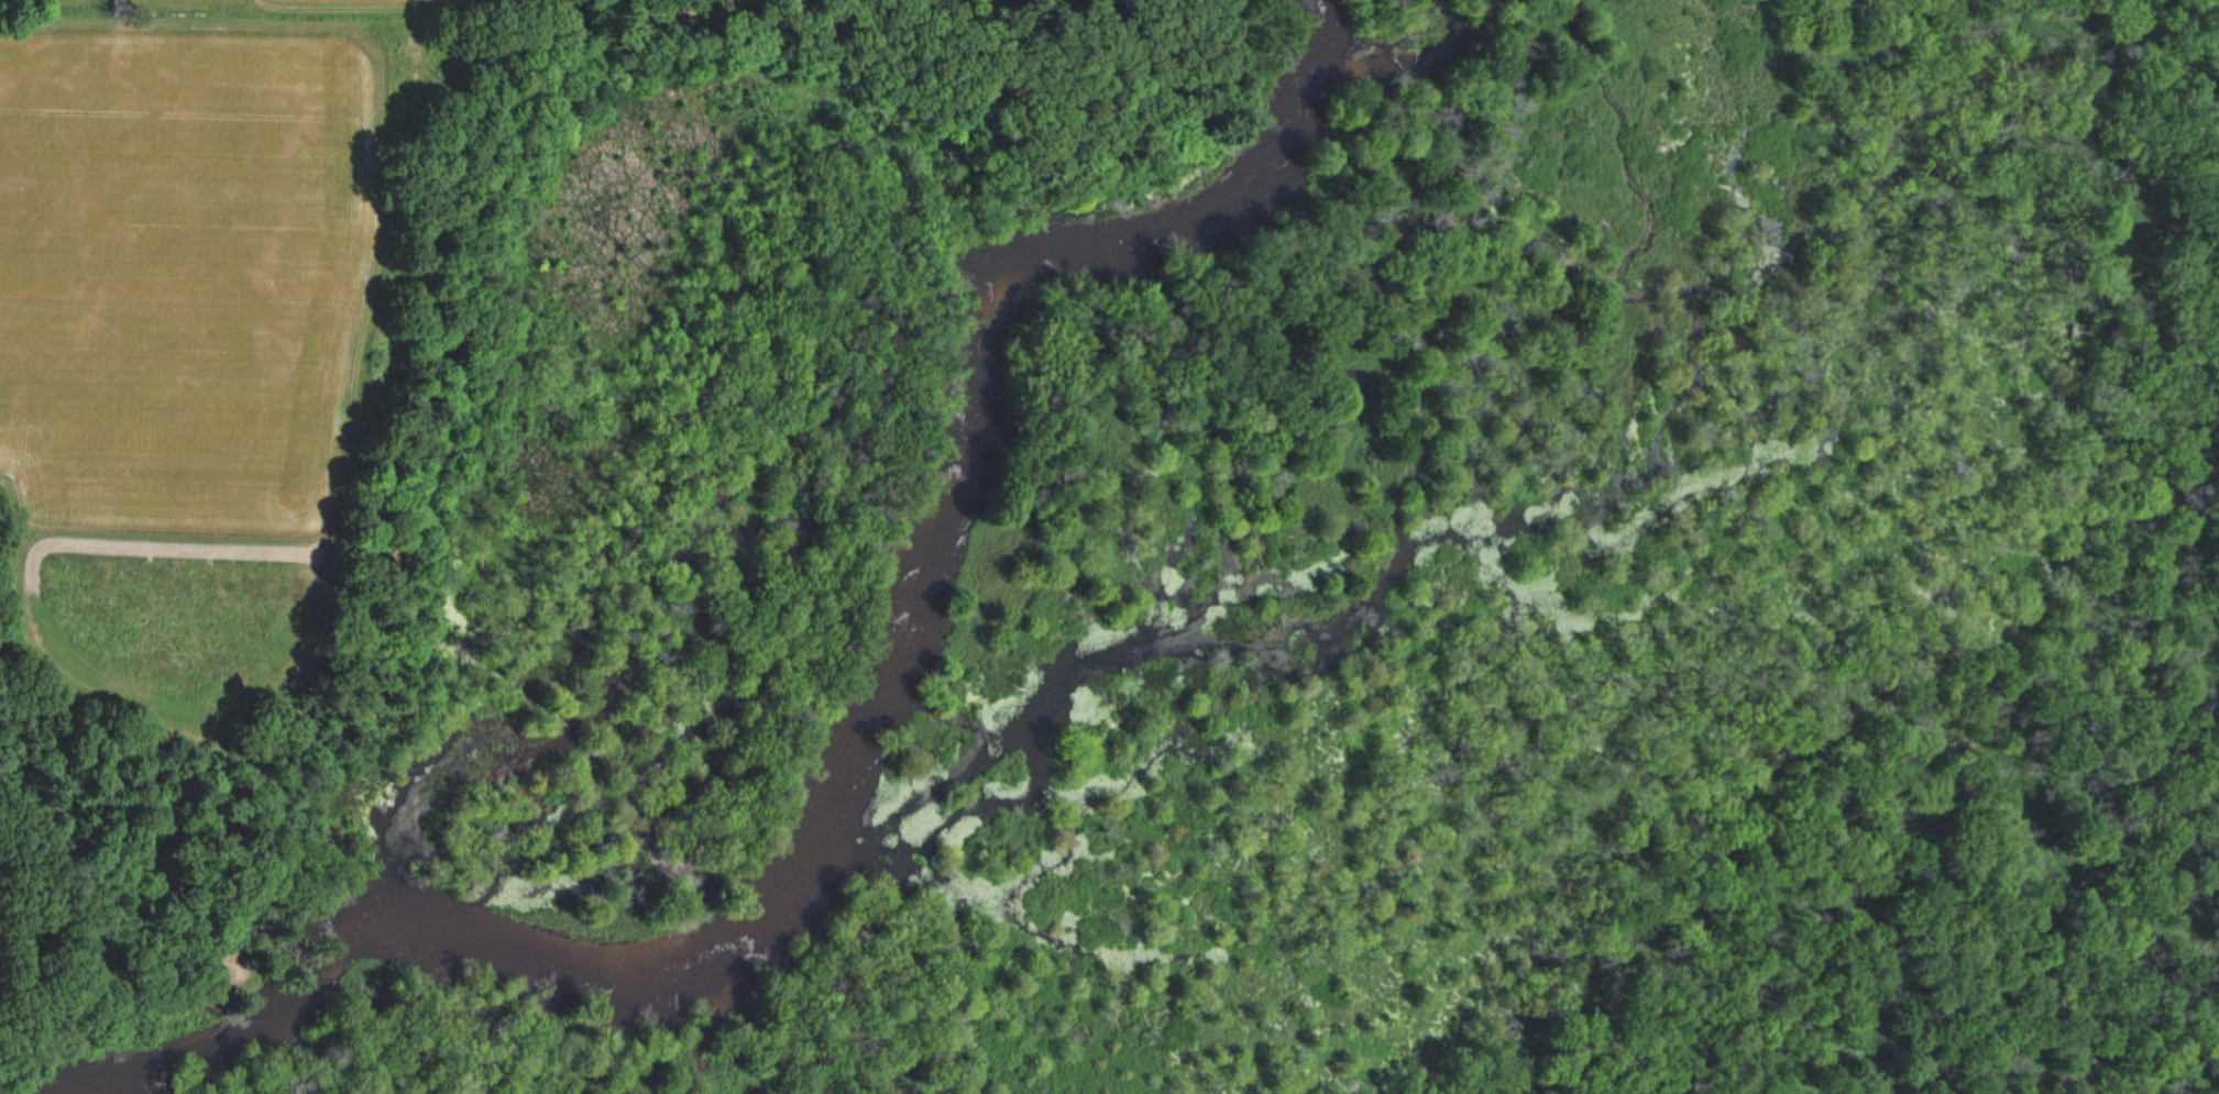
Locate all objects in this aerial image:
river: (864, 744)

